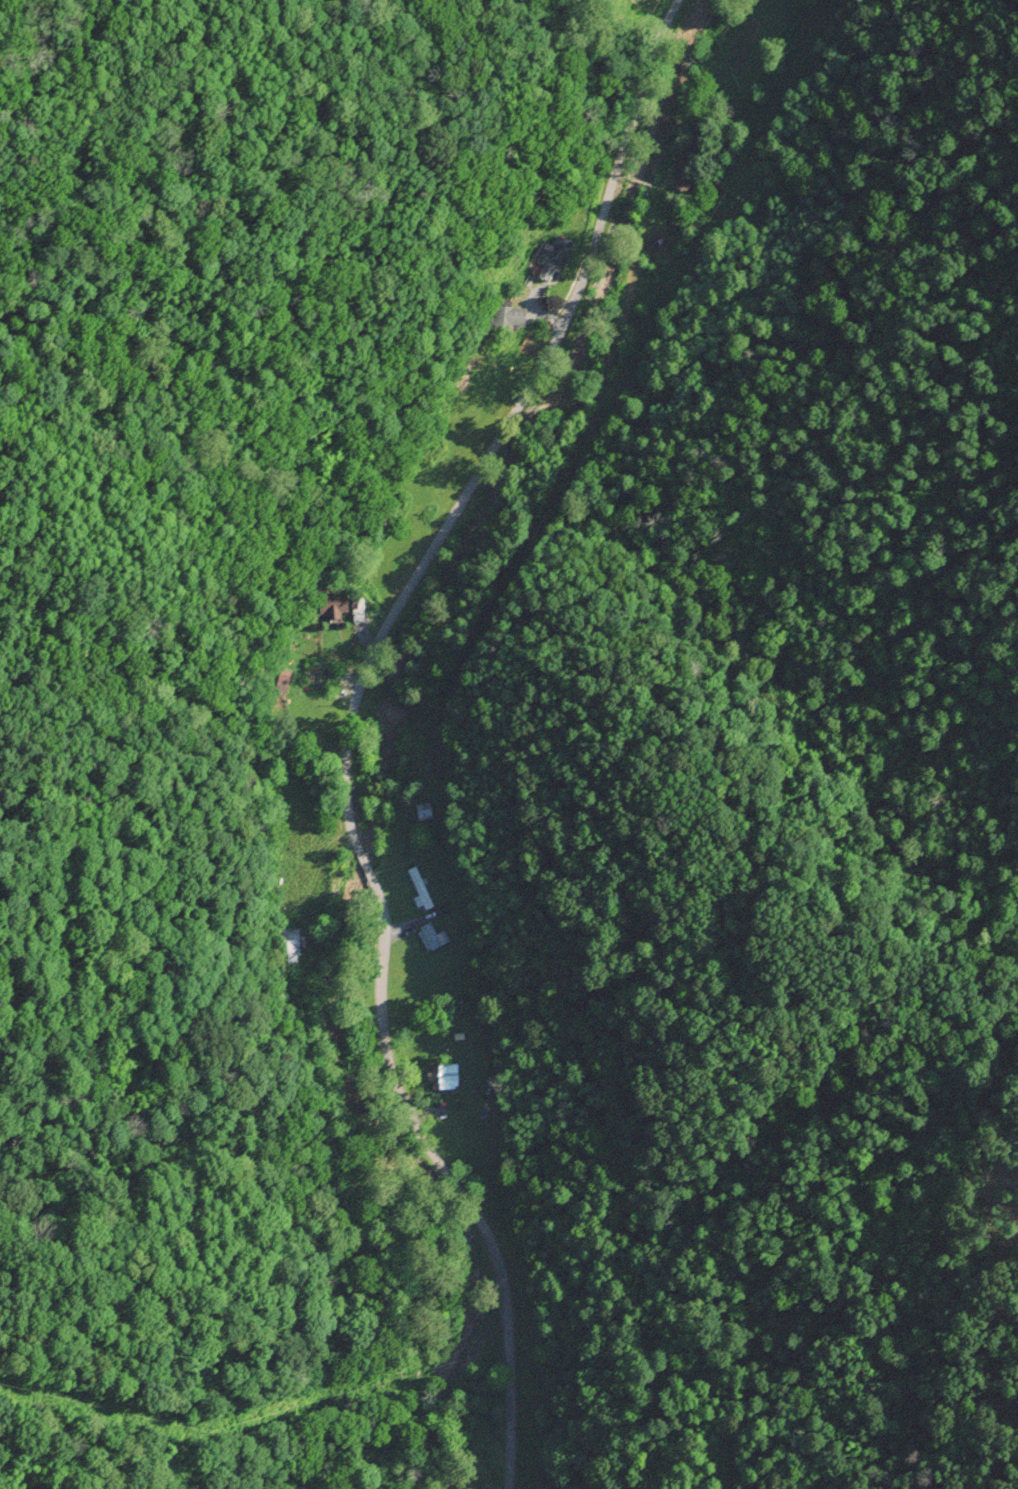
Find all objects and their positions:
building: (681, 219)
building: (553, 257)
building: (509, 315)
road: (509, 414)
building: (333, 608)
building: (317, 673)
building: (422, 809)
road: (363, 854)
building: (420, 886)
building: (432, 937)
building: (287, 941)
building: (444, 1075)
road: (456, 1184)

